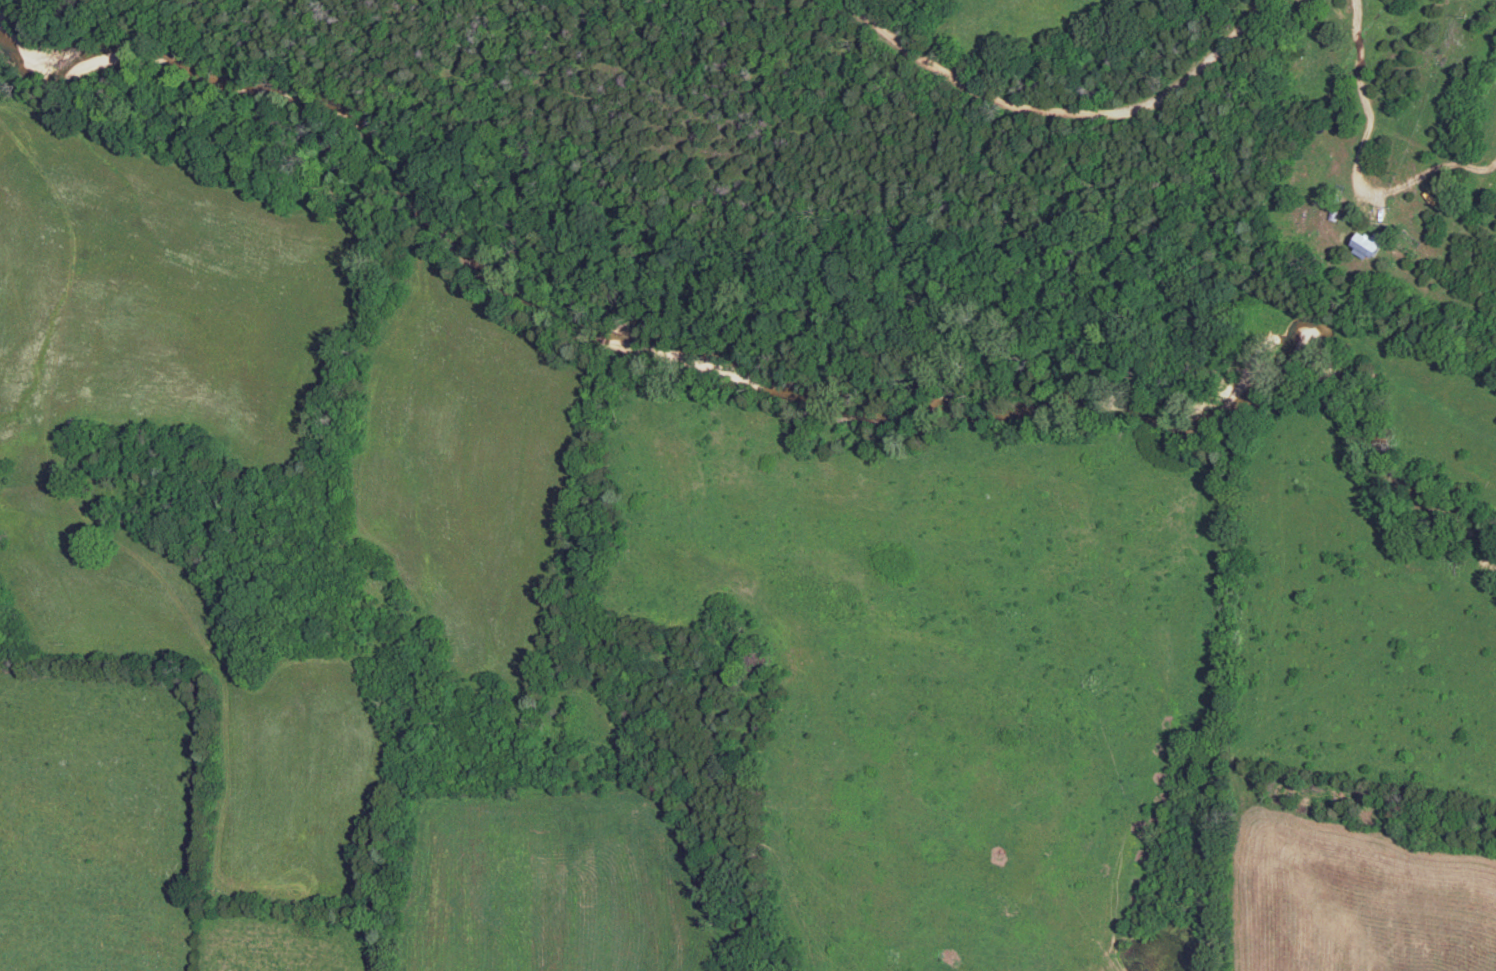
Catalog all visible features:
road: (1068, 109)
road: (1357, 164)
building: (1367, 244)

